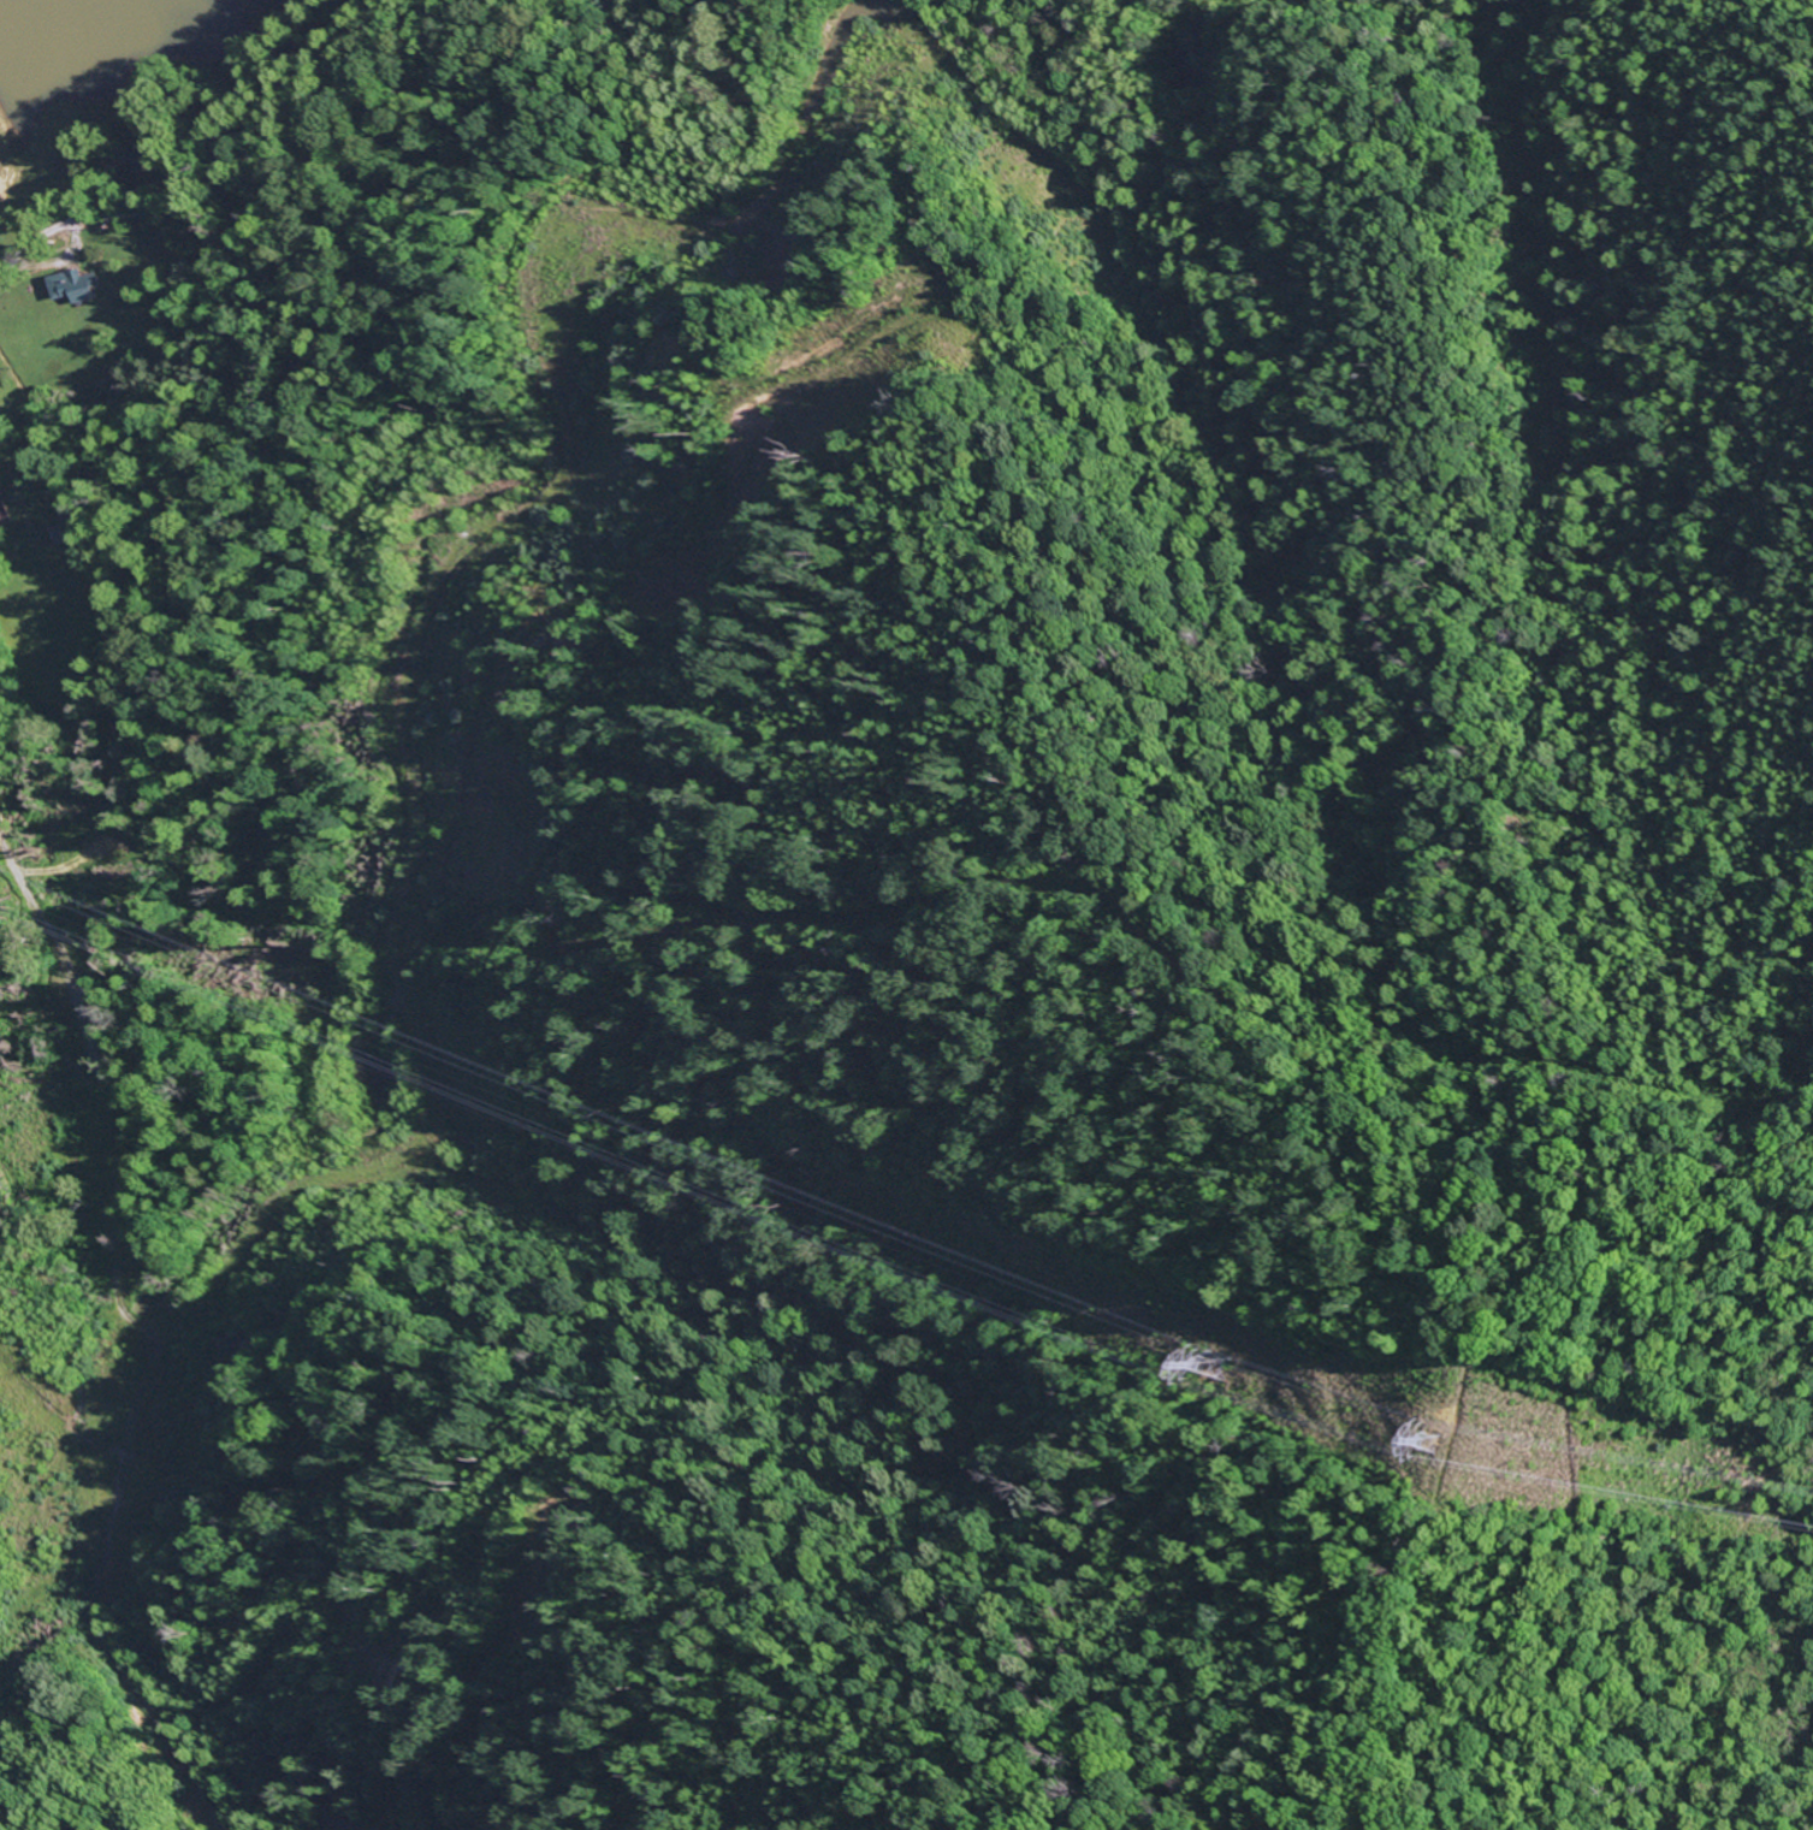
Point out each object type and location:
road: (241, 161)
building: (75, 285)
power tower: (1209, 1364)
power tower: (1428, 1443)

